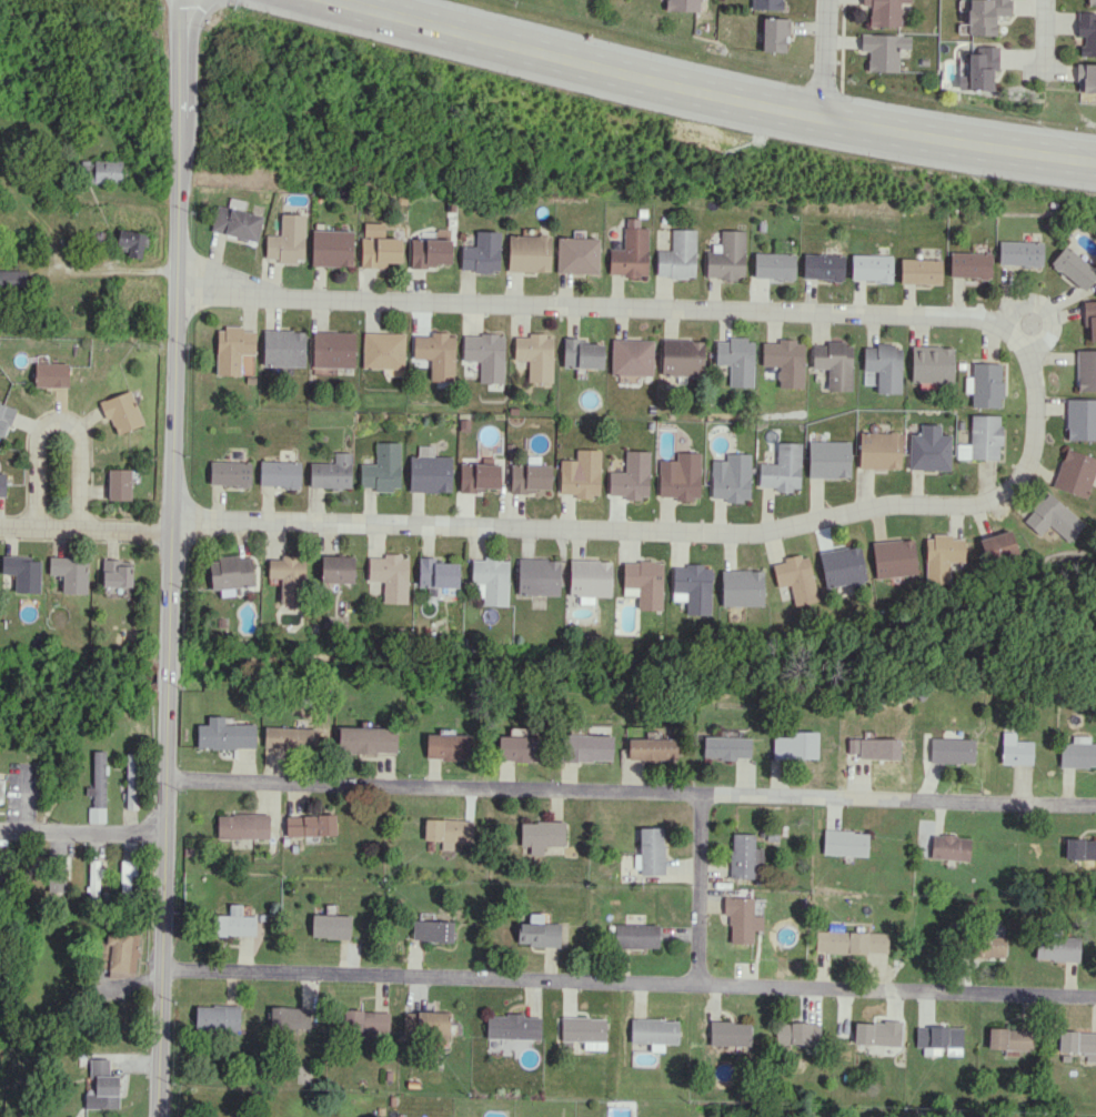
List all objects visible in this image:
building: (1090, 1)
building: (682, 4)
building: (766, 4)
building: (884, 11)
building: (985, 14)
building: (1086, 32)
building: (774, 33)
road: (1047, 34)
building: (883, 50)
road: (822, 59)
building: (979, 69)
building: (1085, 77)
road: (707, 91)
building: (104, 171)
building: (235, 222)
building: (286, 240)
building: (131, 242)
building: (378, 246)
building: (331, 248)
building: (630, 251)
building: (430, 252)
building: (481, 253)
building: (529, 253)
building: (1019, 253)
building: (576, 255)
building: (677, 255)
building: (726, 255)
building: (969, 264)
building: (773, 265)
building: (822, 266)
building: (1074, 266)
road: (104, 268)
building: (871, 268)
building: (919, 271)
building: (12, 279)
road: (586, 309)
building: (1089, 319)
building: (283, 348)
building: (232, 349)
building: (333, 349)
building: (383, 350)
building: (436, 354)
building: (581, 354)
building: (485, 355)
building: (534, 355)
building: (632, 356)
building: (682, 356)
building: (736, 360)
building: (784, 361)
building: (833, 363)
building: (931, 364)
building: (883, 365)
building: (1086, 370)
building: (51, 374)
building: (984, 384)
building: (121, 411)
building: (1080, 419)
building: (982, 439)
building: (928, 449)
building: (878, 450)
building: (828, 459)
building: (382, 467)
building: (782, 469)
building: (430, 471)
building: (332, 472)
building: (1075, 472)
building: (230, 473)
building: (279, 473)
road: (64, 474)
building: (581, 474)
building: (479, 476)
building: (631, 476)
building: (680, 476)
building: (530, 477)
building: (731, 477)
building: (2, 484)
building: (119, 484)
building: (1053, 517)
road: (87, 529)
road: (694, 531)
building: (997, 545)
building: (941, 556)
building: (893, 557)
road: (170, 558)
building: (842, 566)
building: (336, 568)
building: (21, 572)
building: (70, 573)
building: (117, 573)
building: (230, 573)
building: (436, 573)
building: (390, 576)
building: (537, 576)
building: (288, 577)
building: (795, 577)
building: (590, 578)
building: (491, 580)
building: (643, 583)
building: (692, 587)
building: (741, 587)
building: (224, 734)
building: (290, 736)
building: (366, 739)
building: (795, 745)
building: (448, 746)
building: (520, 747)
building: (585, 747)
building: (725, 747)
building: (873, 747)
building: (651, 748)
building: (951, 749)
building: (1014, 749)
building: (1077, 752)
building: (98, 778)
building: (131, 781)
building: (1, 789)
road: (630, 792)
building: (95, 814)
building: (242, 825)
building: (310, 825)
road: (81, 829)
building: (449, 831)
building: (541, 835)
building: (844, 843)
building: (948, 846)
building: (1079, 848)
building: (651, 851)
building: (744, 856)
building: (127, 875)
building: (94, 877)
building: (56, 883)
road: (697, 887)
building: (0, 889)
building: (741, 918)
building: (233, 923)
building: (330, 926)
building: (432, 928)
building: (539, 934)
building: (634, 935)
building: (851, 942)
building: (988, 946)
building: (1056, 947)
building: (120, 954)
road: (627, 978)
building: (217, 1016)
building: (289, 1017)
building: (369, 1023)
building: (425, 1025)
building: (512, 1026)
building: (584, 1030)
building: (654, 1032)
building: (728, 1033)
building: (796, 1033)
building: (876, 1033)
building: (939, 1038)
building: (1010, 1038)
building: (1078, 1043)
building: (102, 1086)

